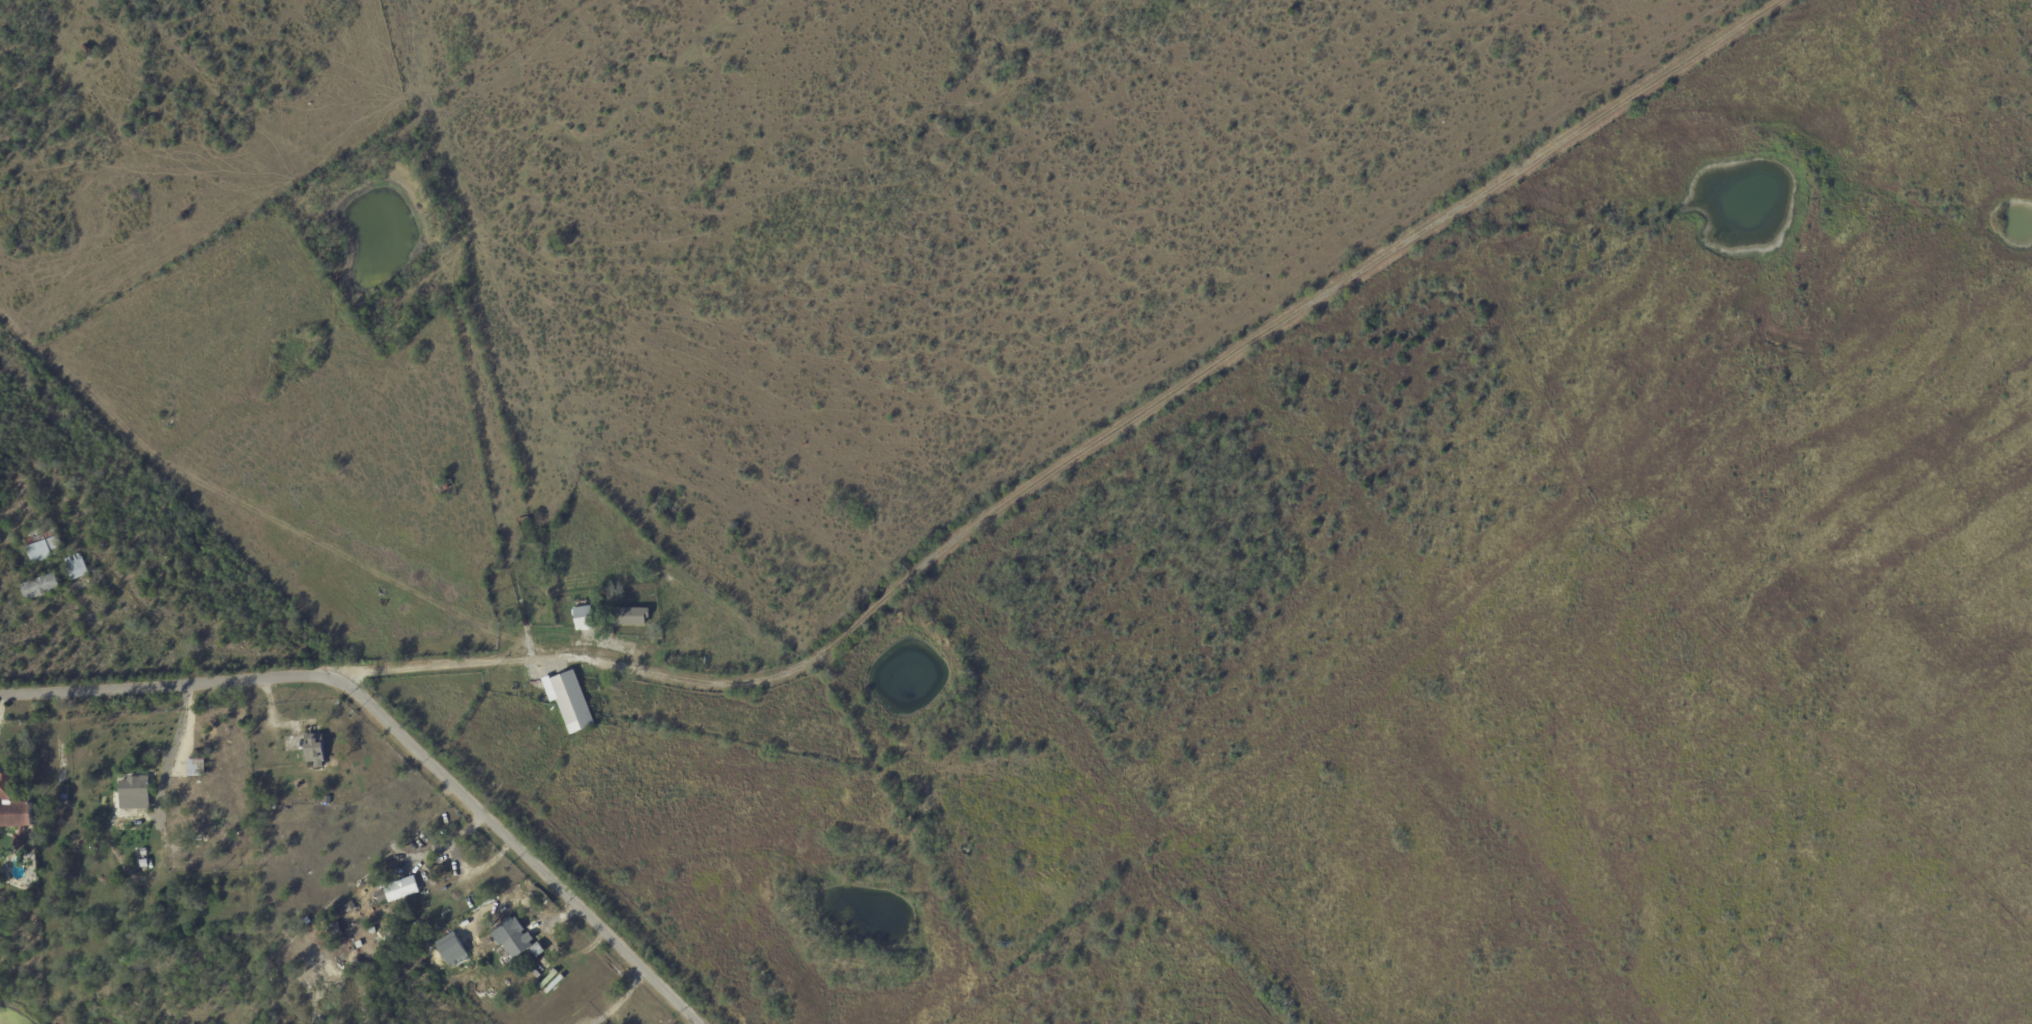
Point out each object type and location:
building: (90, 50)
road: (1085, 449)
building: (444, 487)
building: (42, 543)
building: (76, 567)
building: (41, 587)
building: (632, 617)
building: (585, 619)
building: (672, 622)
road: (168, 685)
building: (639, 687)
building: (573, 703)
road: (178, 736)
building: (317, 750)
building: (197, 767)
building: (135, 788)
building: (59, 802)
building: (42, 804)
building: (13, 810)
building: (126, 835)
road: (518, 850)
building: (223, 852)
building: (53, 854)
building: (200, 858)
building: (173, 874)
building: (142, 878)
building: (399, 889)
building: (407, 904)
building: (351, 906)
building: (515, 939)
building: (454, 950)
building: (538, 950)
building: (509, 958)

